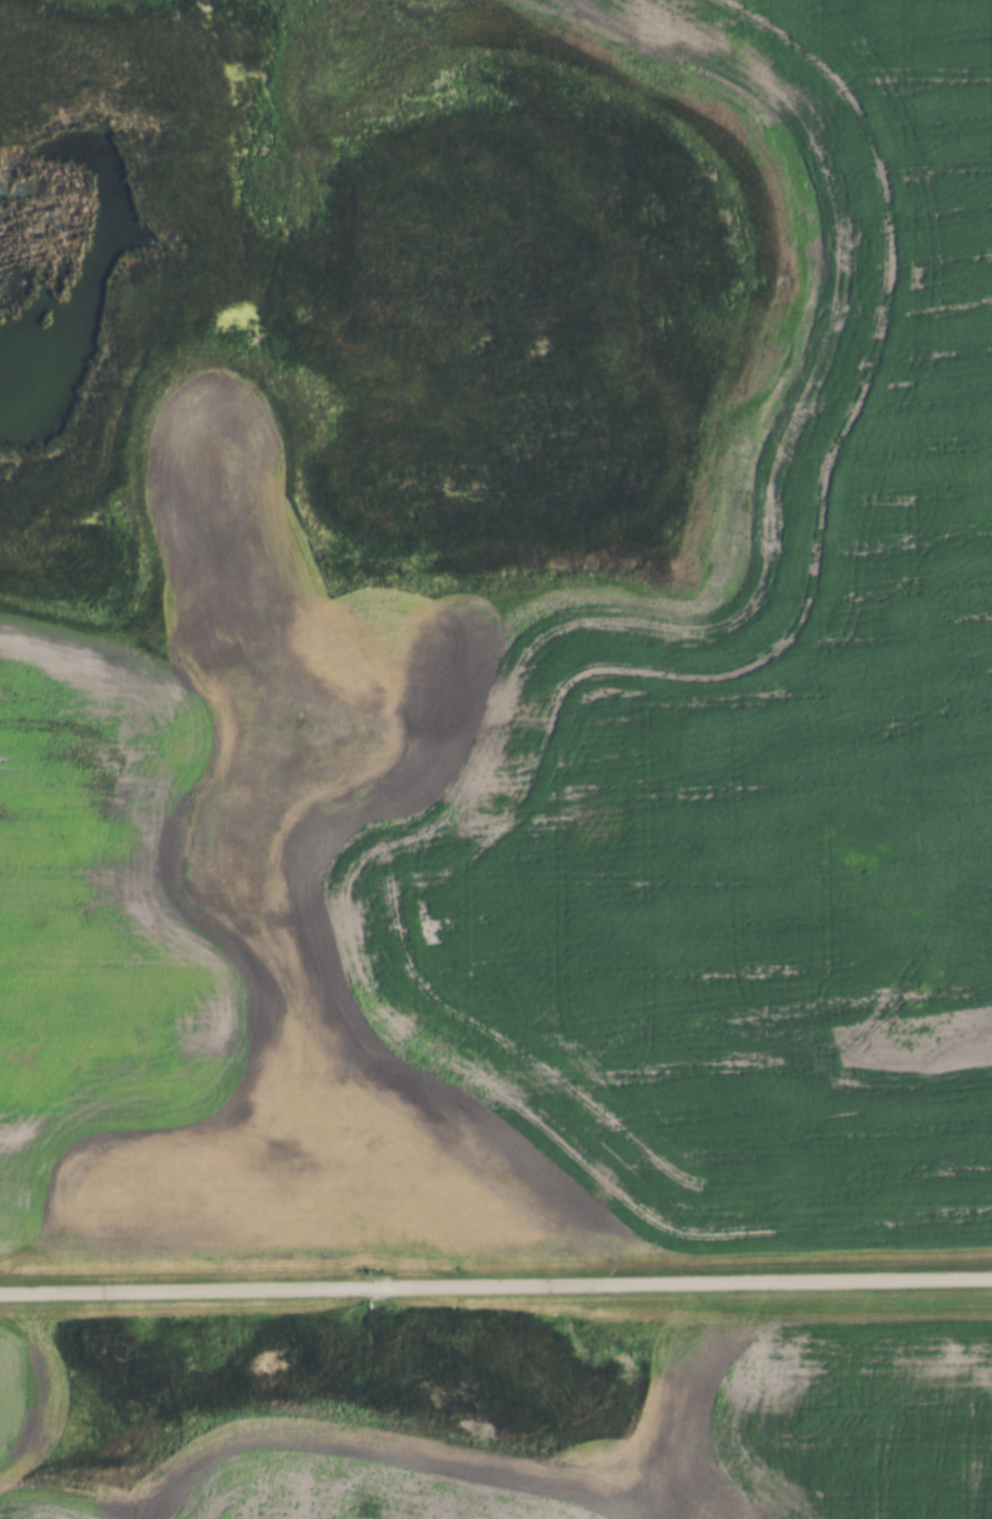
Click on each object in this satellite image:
road: (496, 1287)

